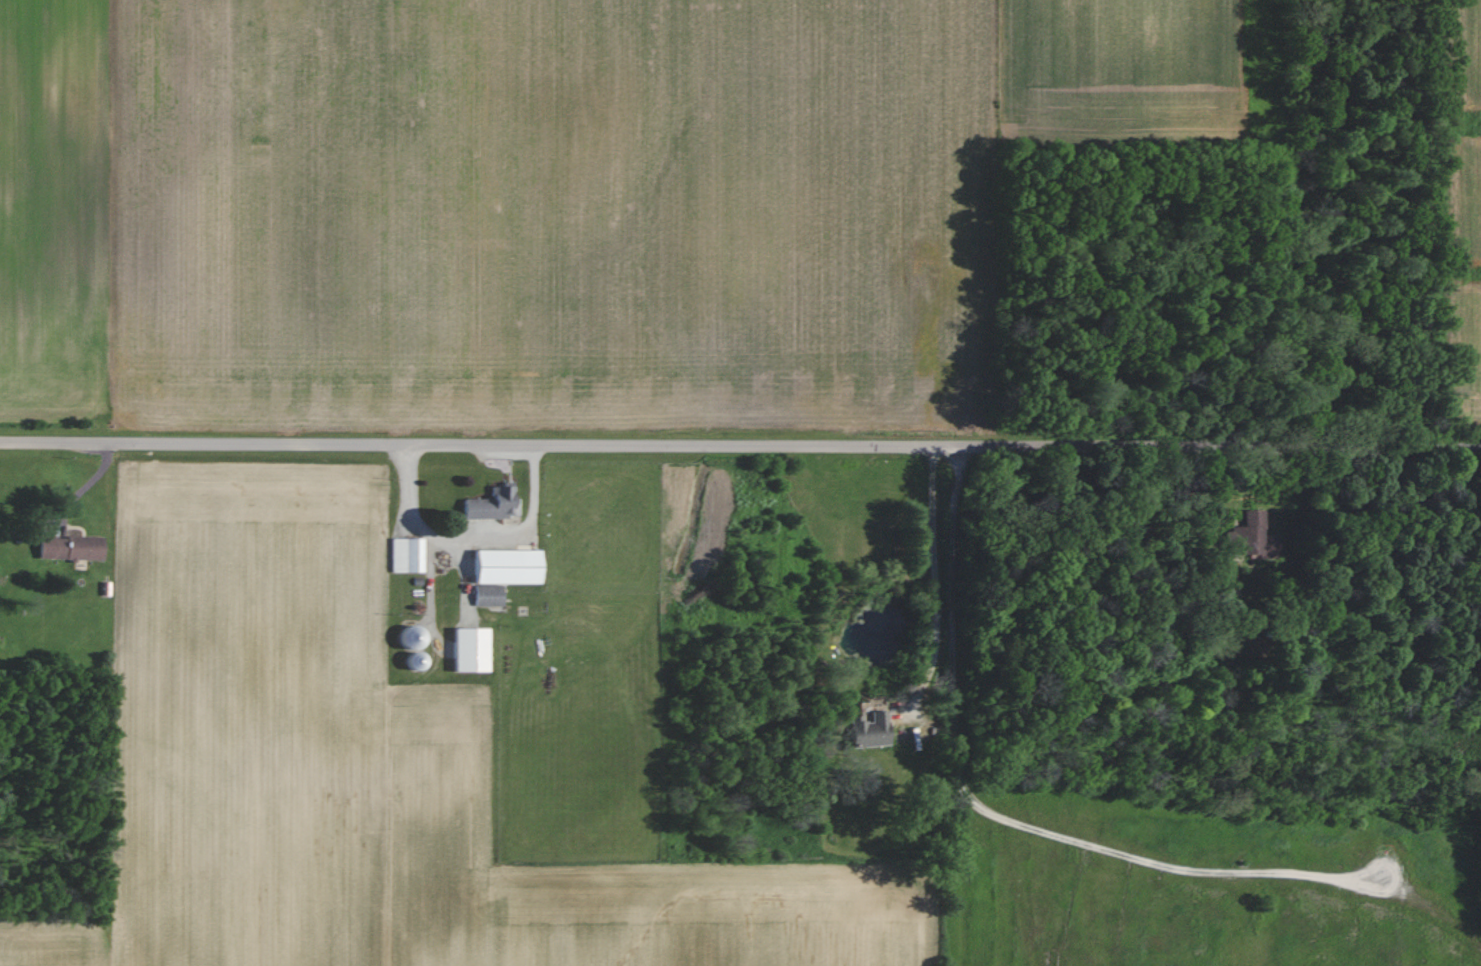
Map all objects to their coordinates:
road: (740, 446)
building: (488, 504)
building: (1247, 537)
road: (473, 538)
building: (68, 548)
building: (404, 555)
building: (502, 567)
road: (934, 574)
building: (485, 595)
building: (406, 638)
building: (466, 650)
building: (410, 661)
building: (865, 730)

